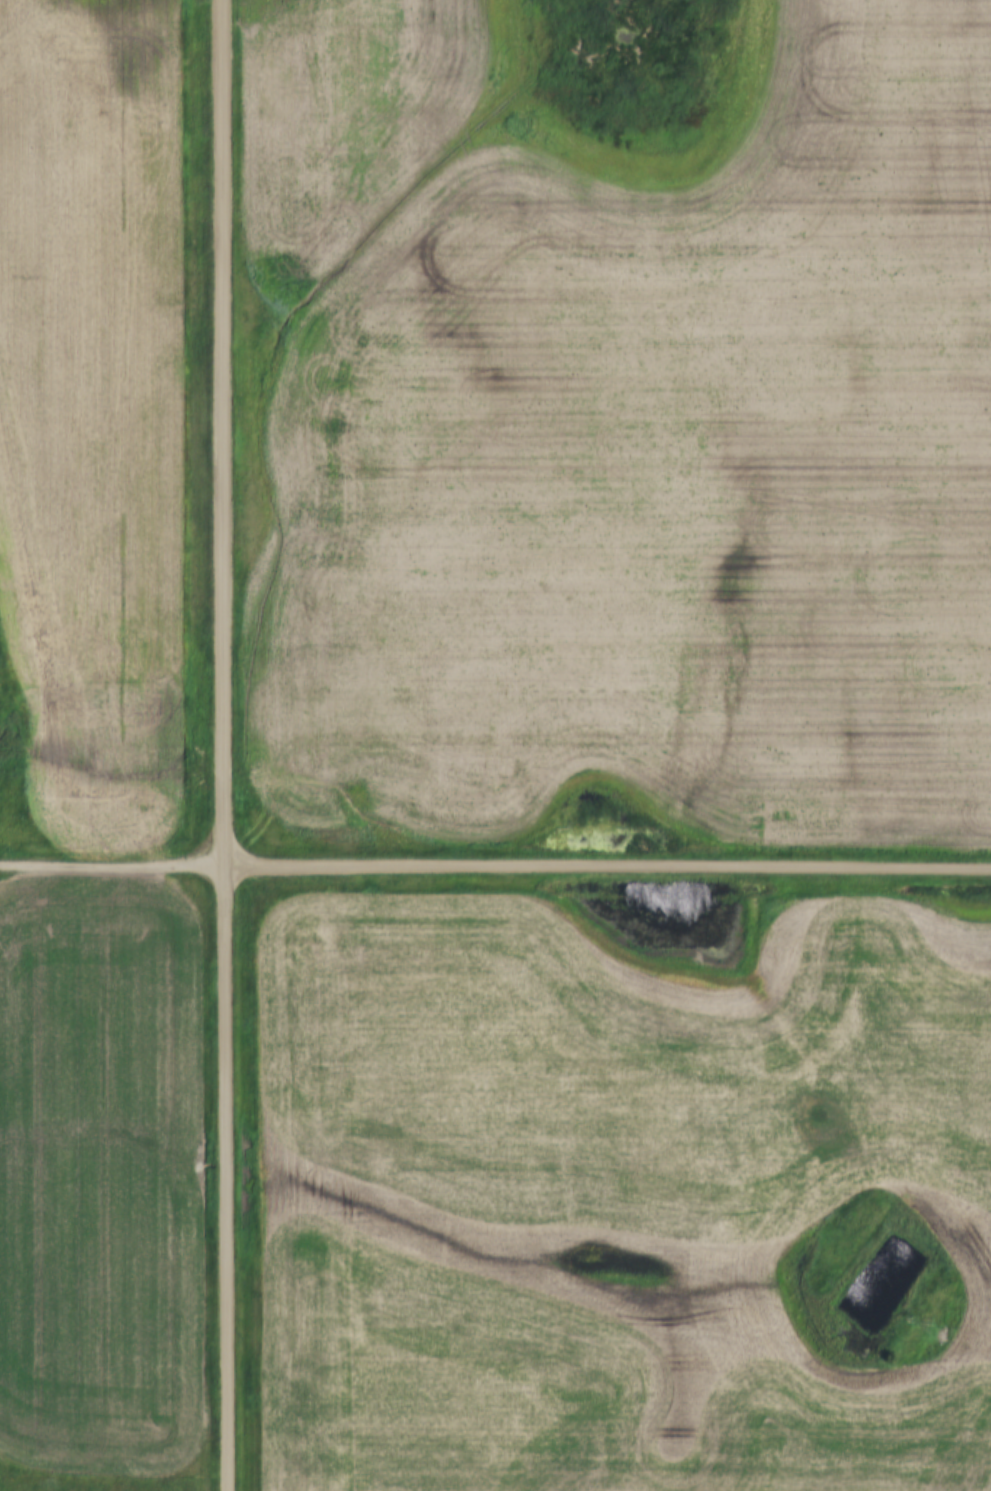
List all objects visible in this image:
road: (222, 745)
road: (111, 872)
road: (607, 873)

